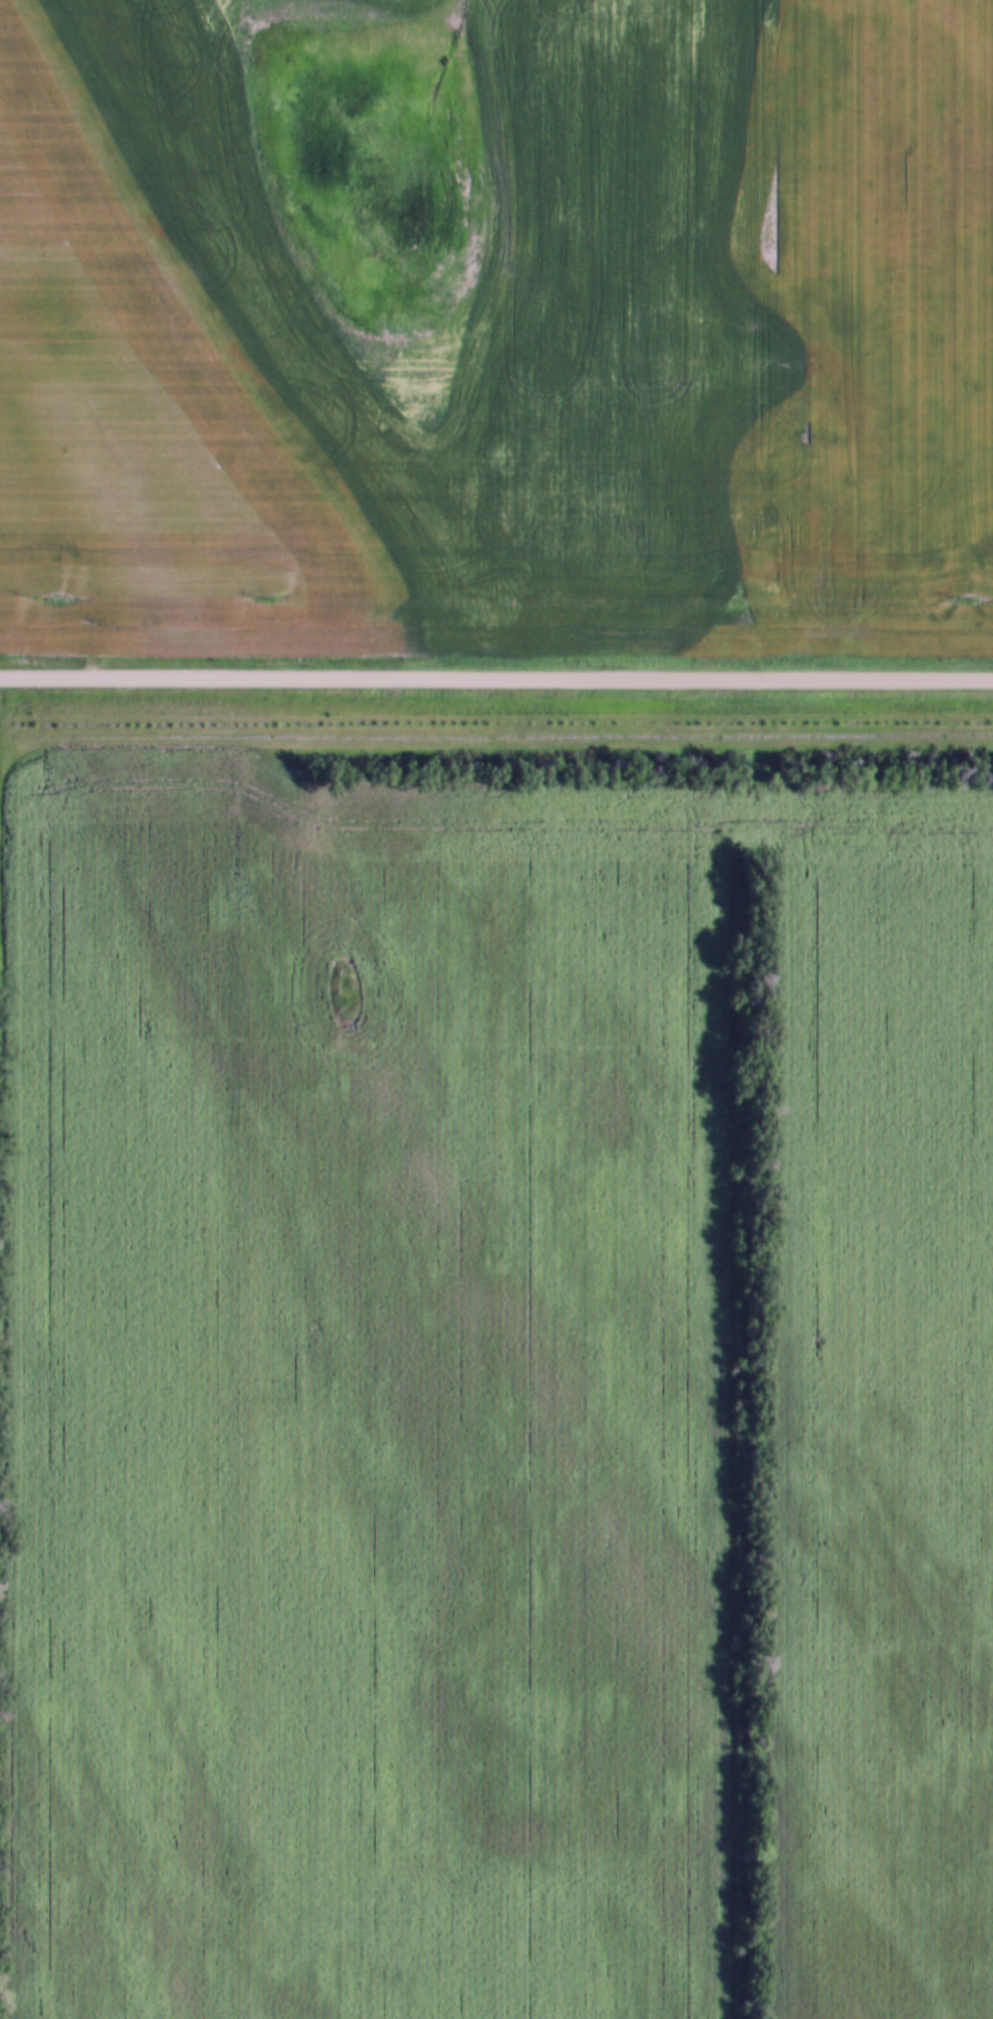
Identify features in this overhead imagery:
road: (496, 681)

